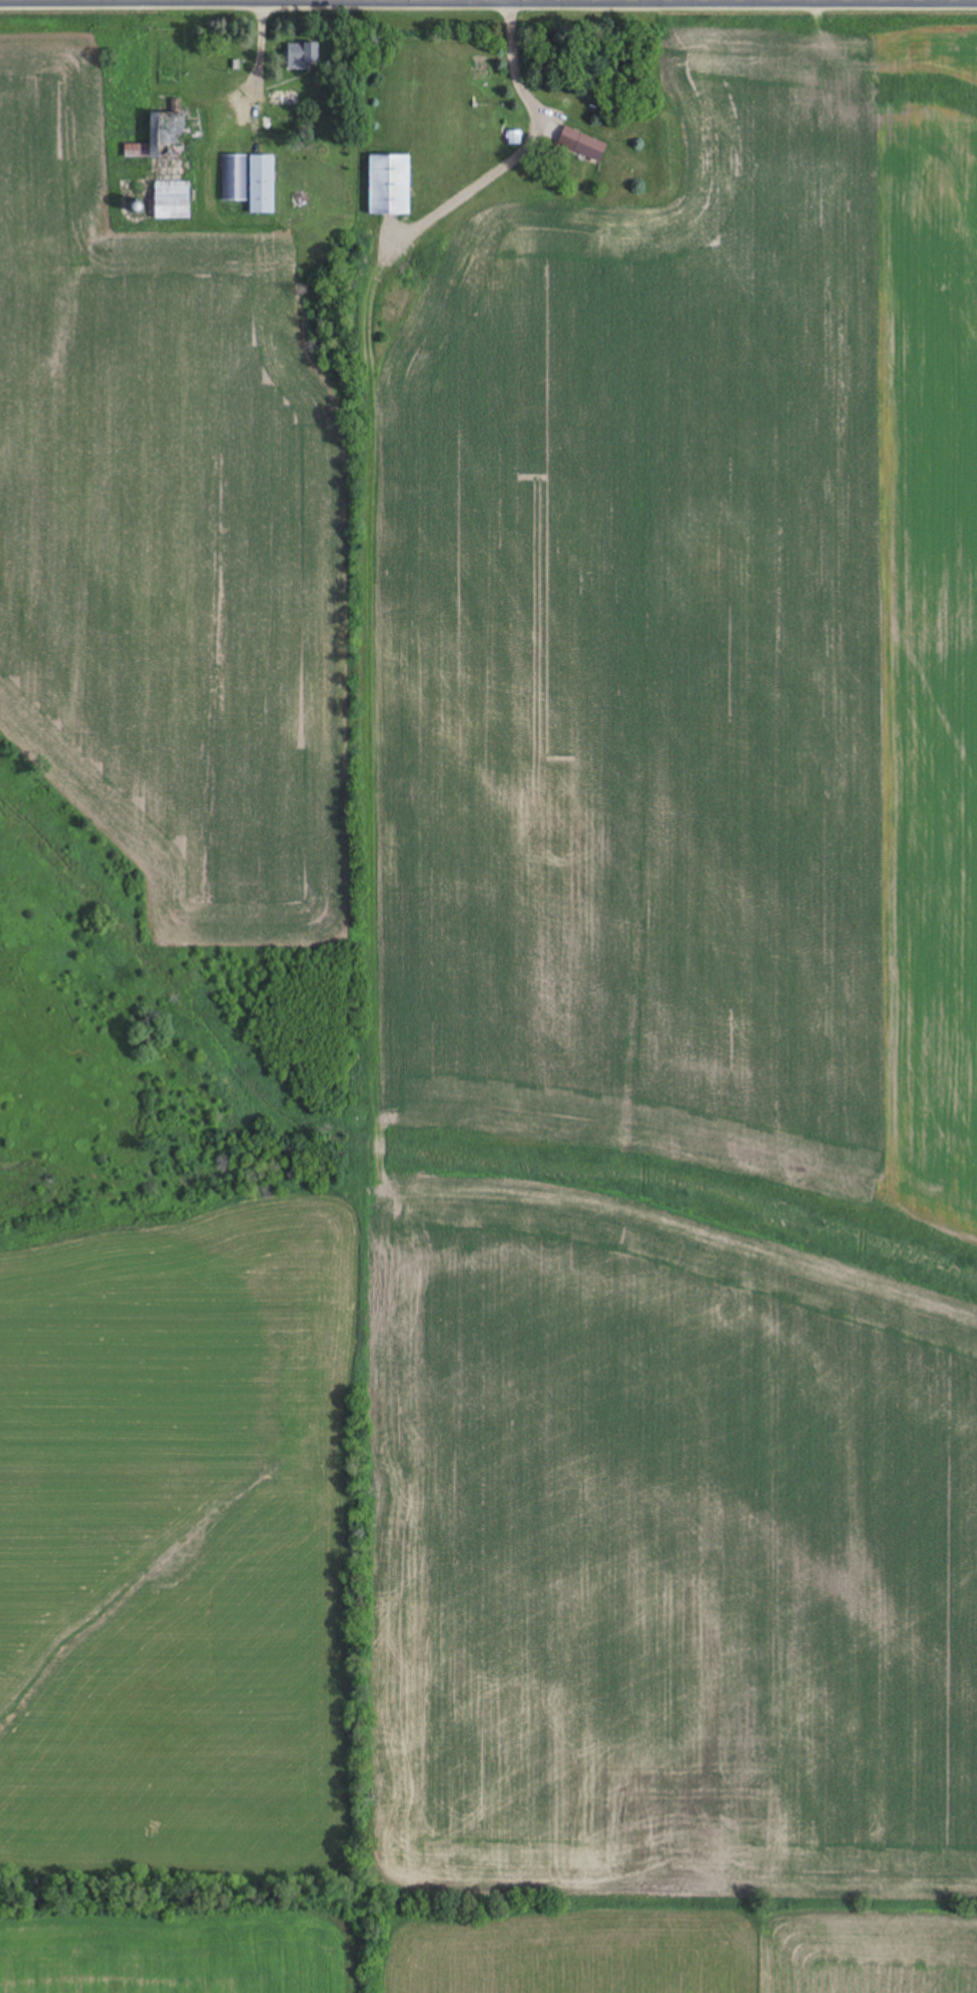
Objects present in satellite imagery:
building: (302, 56)
building: (284, 98)
building: (165, 136)
building: (581, 144)
building: (234, 179)
building: (262, 185)
building: (389, 186)
building: (172, 200)

